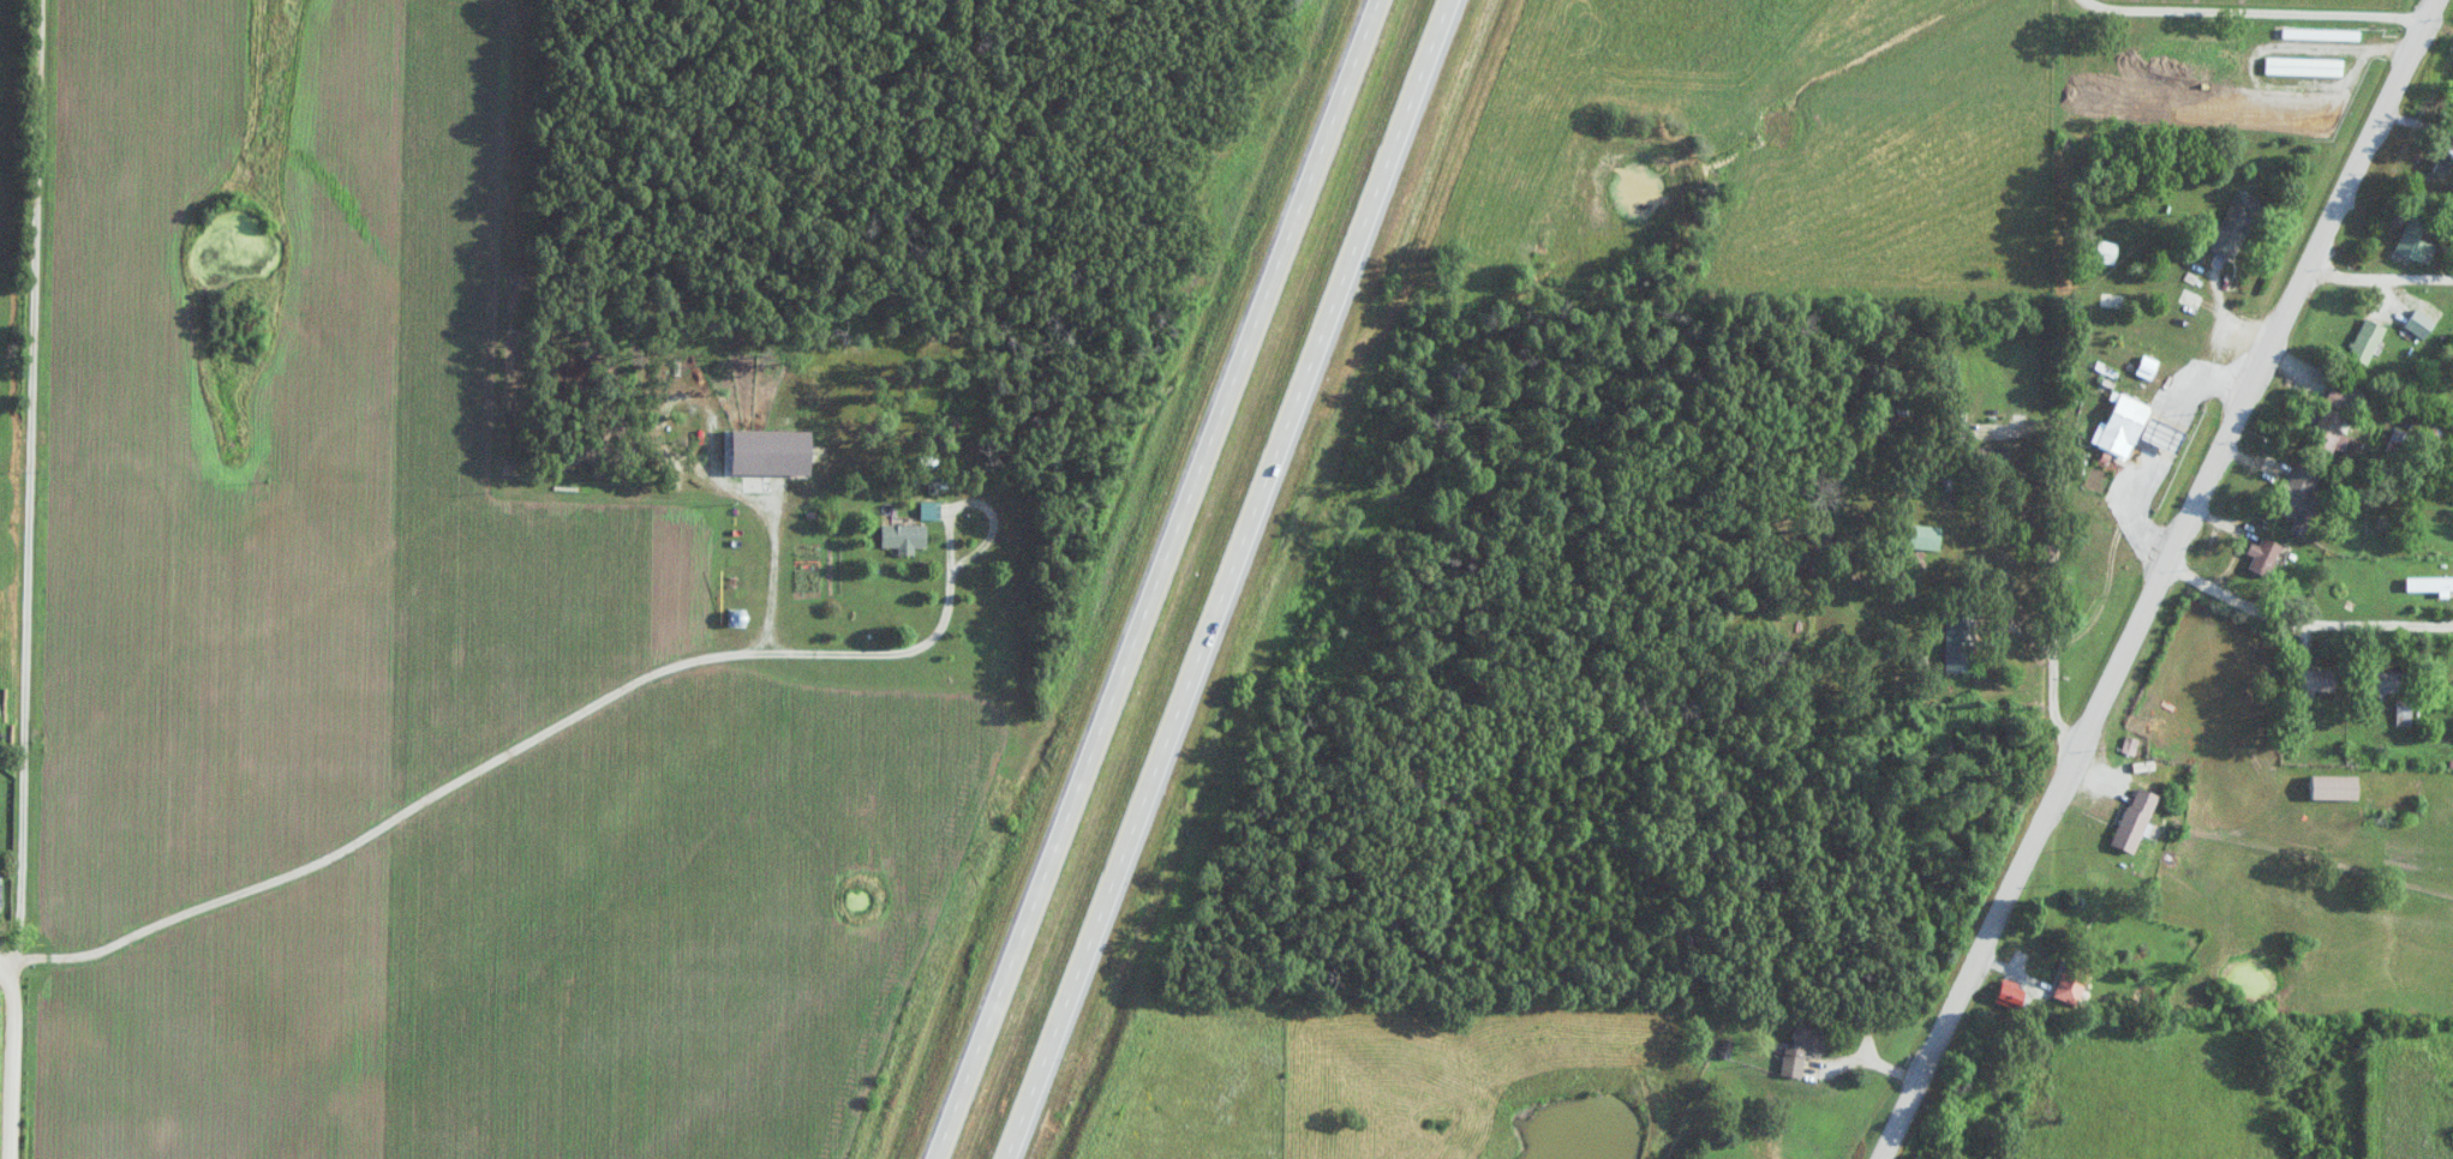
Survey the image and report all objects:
road: (2261, 16)
building: (2322, 34)
building: (2305, 66)
building: (2446, 161)
building: (2237, 223)
building: (2419, 240)
building: (2108, 251)
road: (2381, 282)
building: (2116, 300)
building: (2189, 320)
building: (2422, 323)
building: (2368, 341)
building: (2126, 424)
building: (2337, 436)
building: (2401, 444)
building: (1993, 456)
road: (31, 481)
building: (2302, 500)
road: (2056, 524)
building: (905, 538)
building: (1927, 538)
road: (2124, 551)
building: (2266, 556)
road: (2165, 578)
road: (1159, 579)
road: (1228, 579)
building: (2430, 583)
road: (2276, 623)
building: (1962, 642)
building: (2321, 680)
building: (2393, 680)
building: (2405, 713)
road: (513, 747)
building: (2339, 786)
building: (2138, 819)
road: (2256, 846)
building: (1, 896)
road: (7, 962)
building: (2076, 986)
building: (1802, 1051)
road: (12, 1061)
road: (1892, 1068)

